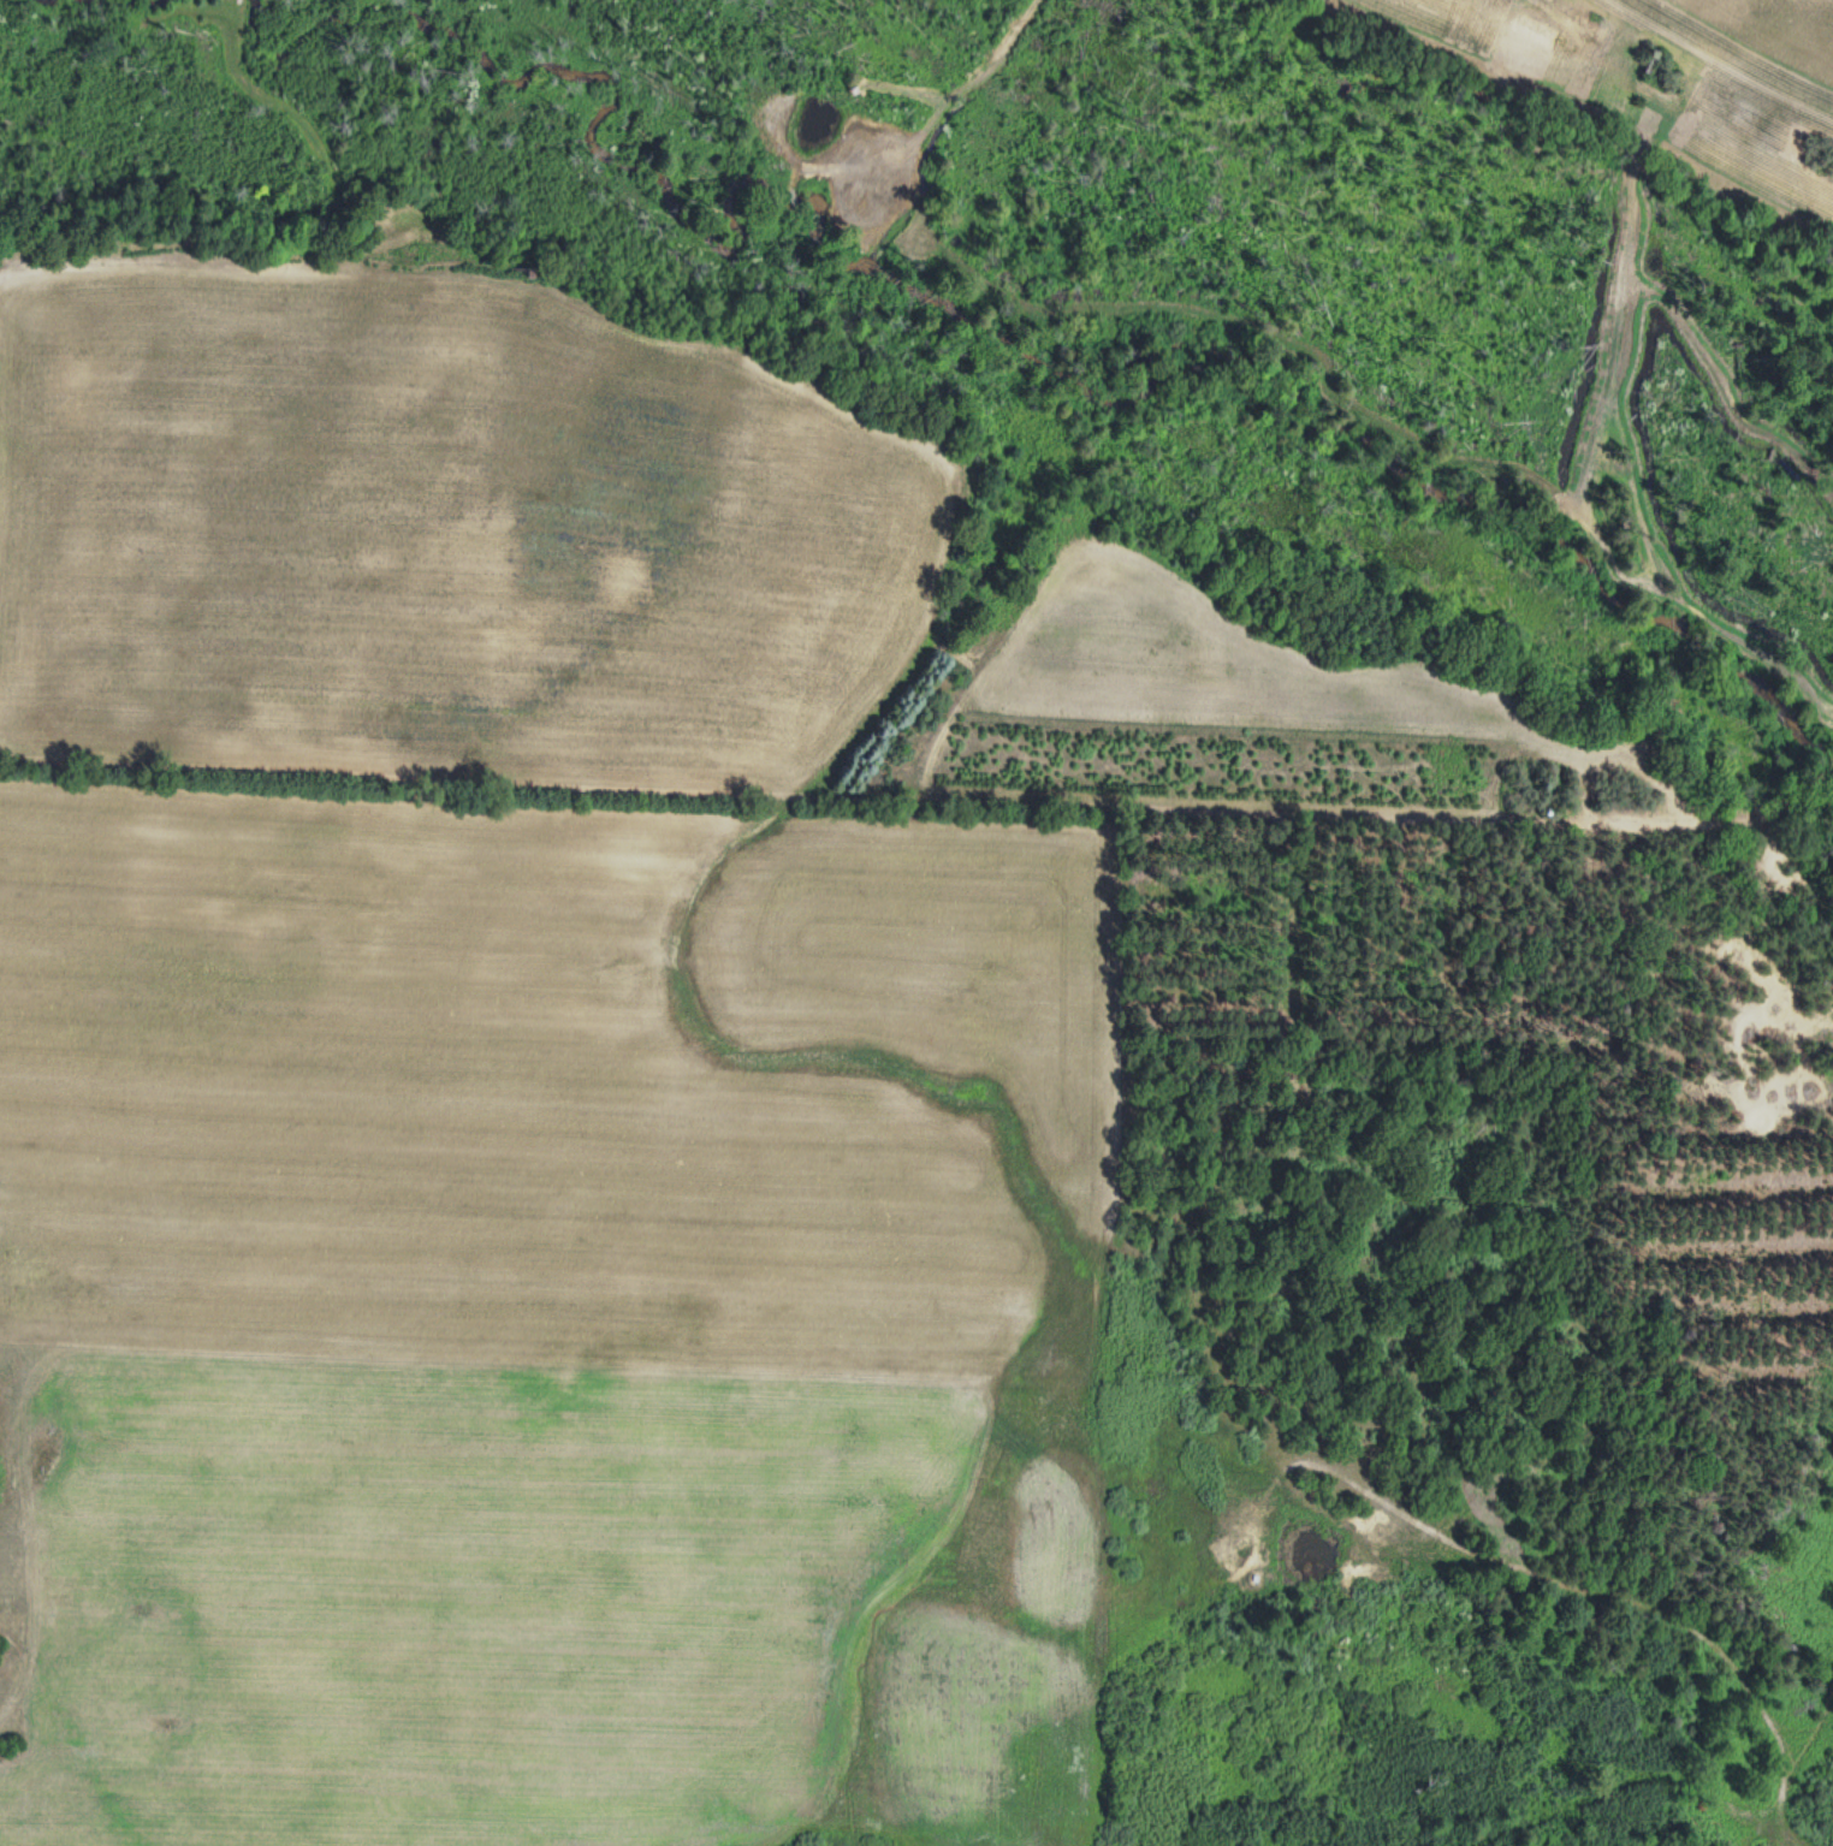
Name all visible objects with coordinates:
road: (1714, 69)
road: (1680, 821)

